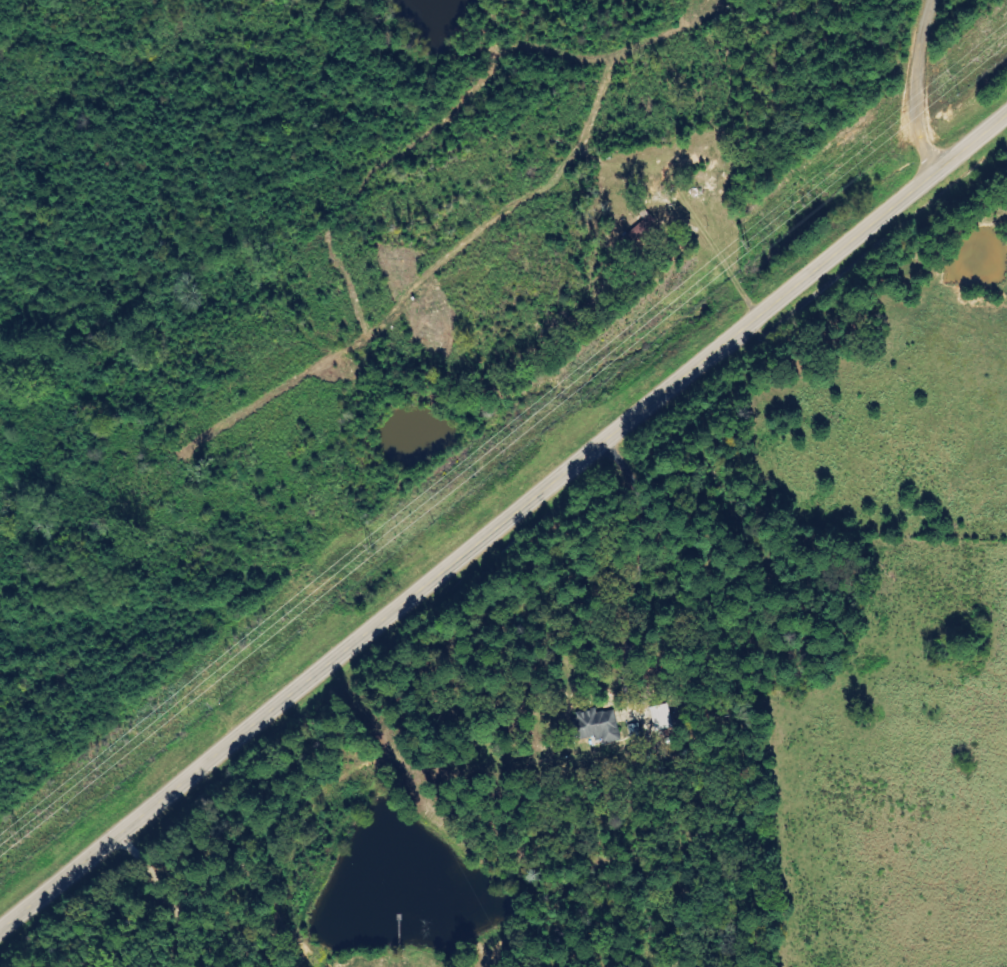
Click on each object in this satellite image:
road: (911, 85)
road: (503, 517)
power tower: (381, 547)
building: (661, 716)
building: (597, 723)

